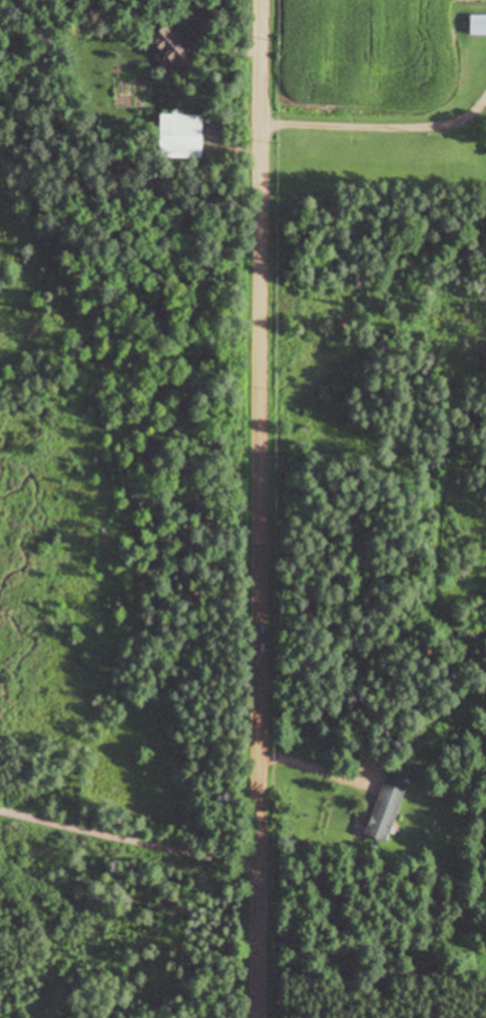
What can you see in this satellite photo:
building: (478, 24)
building: (176, 46)
building: (182, 134)
road: (260, 508)
building: (386, 809)

